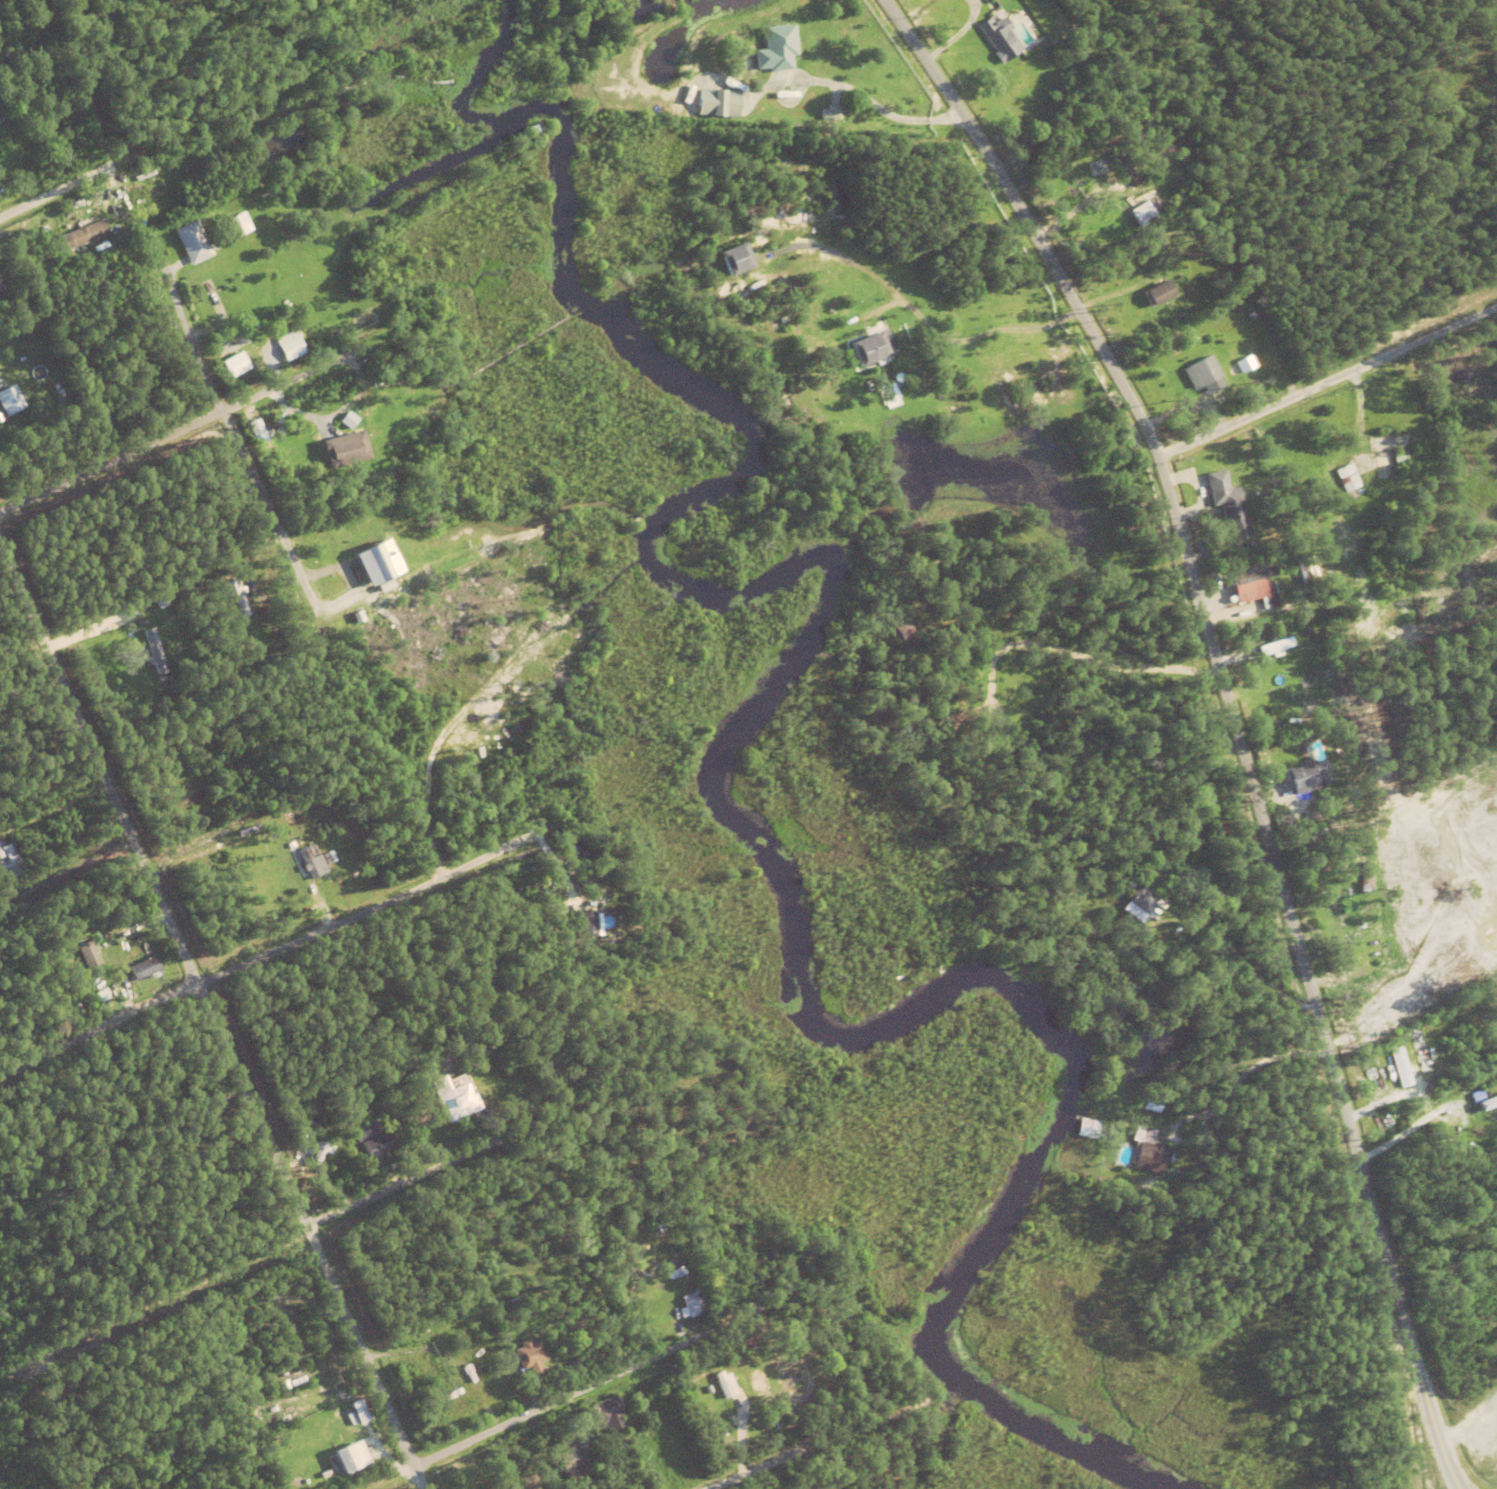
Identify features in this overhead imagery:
building: (800, 23)
building: (1001, 38)
building: (777, 48)
building: (12, 53)
building: (718, 102)
building: (834, 112)
building: (532, 130)
building: (71, 144)
building: (56, 147)
building: (1149, 173)
building: (1132, 175)
road: (77, 183)
building: (132, 199)
building: (150, 205)
building: (1148, 211)
building: (115, 220)
building: (240, 223)
building: (84, 235)
building: (193, 243)
building: (735, 260)
building: (1159, 294)
building: (880, 325)
building: (257, 338)
building: (289, 346)
building: (873, 348)
building: (275, 352)
building: (235, 364)
building: (1244, 364)
building: (1201, 373)
building: (395, 384)
road: (1324, 386)
road: (165, 388)
building: (9, 401)
building: (1219, 401)
building: (0, 419)
building: (348, 420)
building: (256, 431)
building: (1399, 439)
building: (346, 449)
building: (1399, 458)
building: (1228, 464)
road: (118, 465)
building: (1383, 467)
building: (1348, 480)
building: (1227, 504)
building: (1288, 511)
road: (230, 530)
building: (377, 564)
building: (1306, 571)
building: (1251, 576)
building: (1275, 586)
building: (332, 589)
building: (377, 598)
building: (1256, 602)
building: (161, 604)
building: (241, 606)
building: (133, 615)
building: (359, 615)
building: (902, 634)
building: (1275, 647)
building: (154, 653)
building: (963, 673)
building: (963, 698)
road: (1230, 717)
river: (716, 754)
building: (1305, 780)
building: (1302, 798)
road: (1203, 800)
building: (1304, 805)
building: (232, 814)
building: (1223, 827)
building: (326, 832)
building: (46, 836)
building: (1315, 836)
building: (290, 846)
road: (1168, 847)
building: (27, 849)
building: (328, 858)
building: (6, 862)
building: (297, 862)
building: (309, 864)
building: (1365, 878)
building: (1174, 883)
building: (1143, 884)
building: (1128, 887)
building: (529, 891)
building: (1166, 893)
building: (1163, 902)
building: (1361, 905)
building: (1138, 906)
road: (339, 922)
building: (586, 926)
building: (89, 956)
building: (76, 968)
building: (144, 968)
building: (322, 1002)
building: (1362, 1005)
road: (213, 1020)
building: (1419, 1051)
building: (1399, 1064)
building: (551, 1078)
building: (455, 1096)
building: (1484, 1100)
building: (1150, 1107)
building: (1488, 1123)
building: (1087, 1130)
building: (368, 1131)
building: (452, 1132)
building: (377, 1144)
building: (1147, 1153)
building: (343, 1156)
building: (373, 1171)
road: (405, 1184)
road: (1446, 1276)
building: (718, 1283)
building: (695, 1309)
building: (453, 1311)
building: (748, 1340)
building: (885, 1354)
road: (666, 1355)
building: (530, 1360)
building: (452, 1371)
building: (484, 1371)
building: (463, 1375)
building: (792, 1377)
building: (758, 1384)
building: (473, 1392)
building: (724, 1392)
building: (359, 1415)
building: (606, 1417)
road: (821, 1447)
building: (175, 1452)
building: (204, 1453)
building: (570, 1461)
building: (350, 1462)
building: (376, 1465)
building: (153, 1467)

